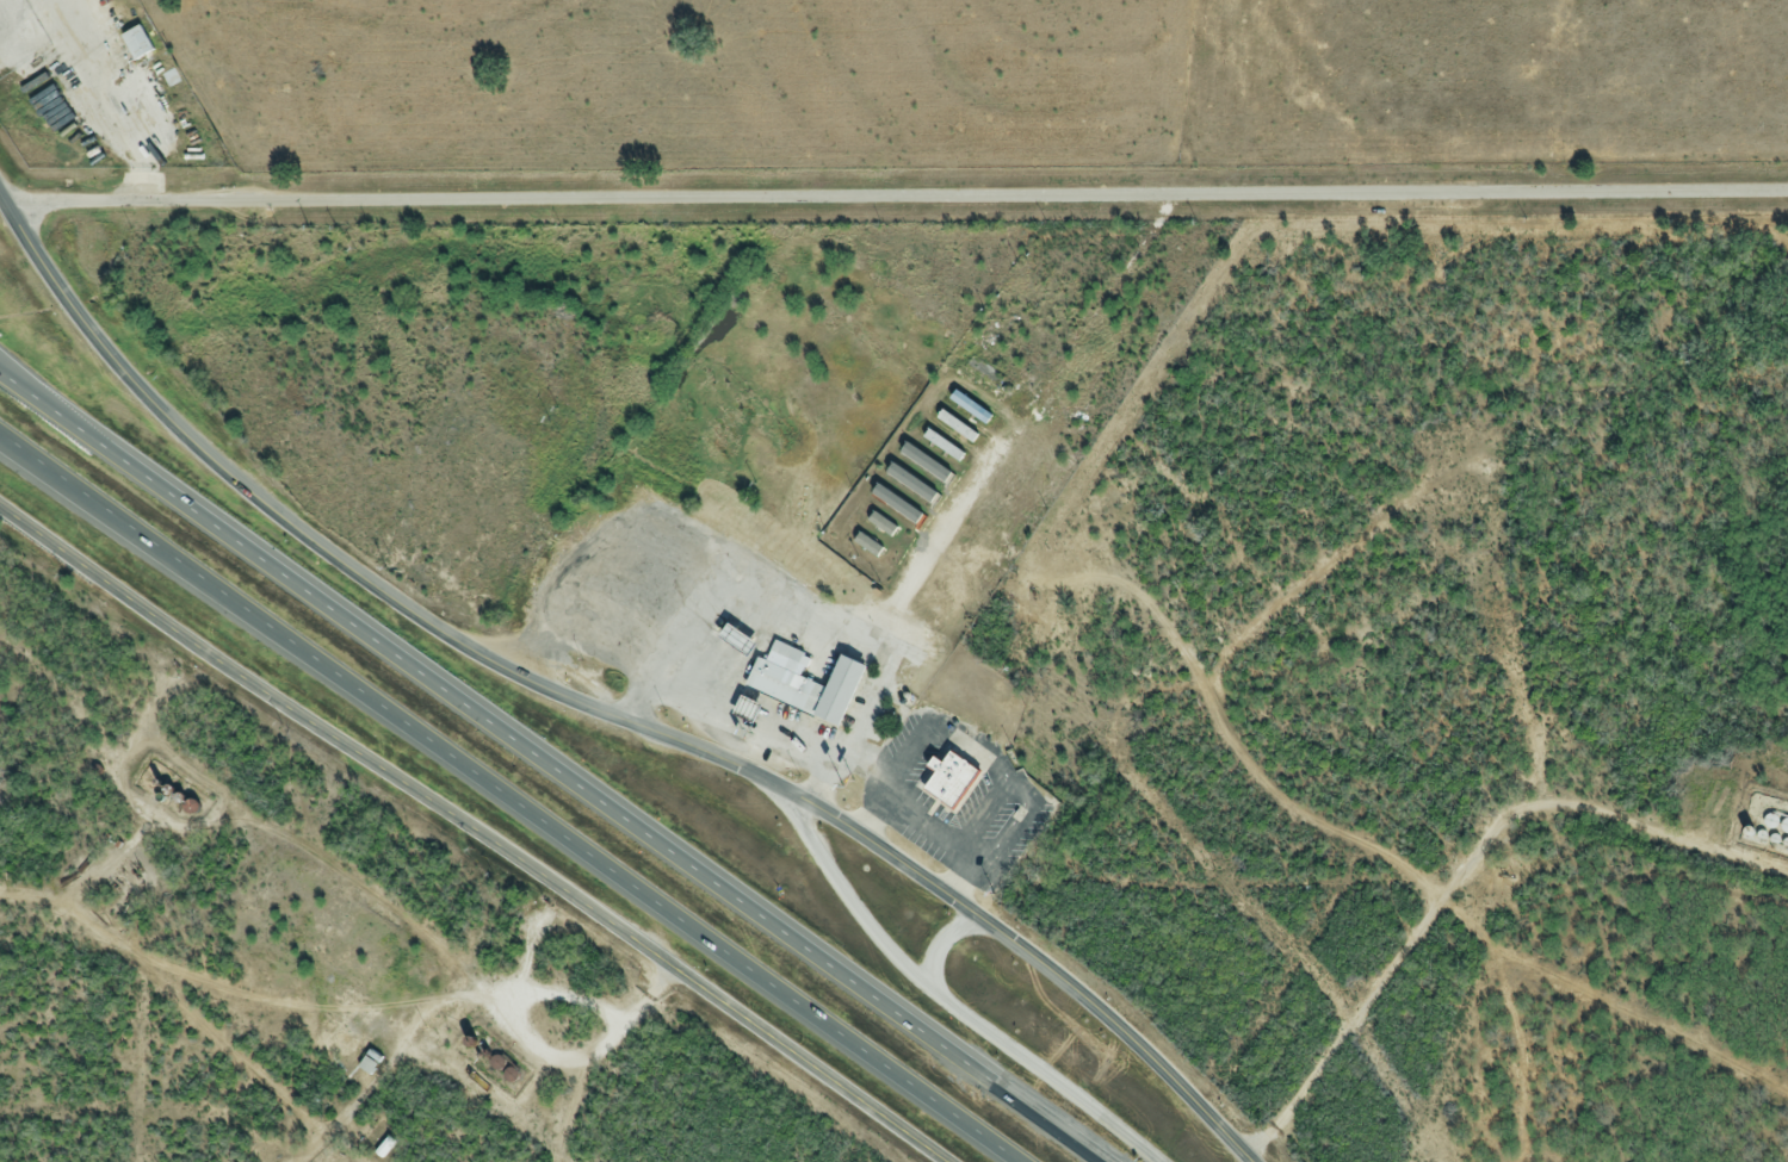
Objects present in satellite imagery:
building: (132, 44)
road: (898, 198)
road: (813, 610)
building: (802, 689)
road: (595, 713)
road: (745, 726)
road: (555, 762)
building: (946, 782)
road: (507, 799)
road: (472, 829)
road: (1464, 870)
road: (941, 938)
road: (944, 1000)
building: (366, 1063)

